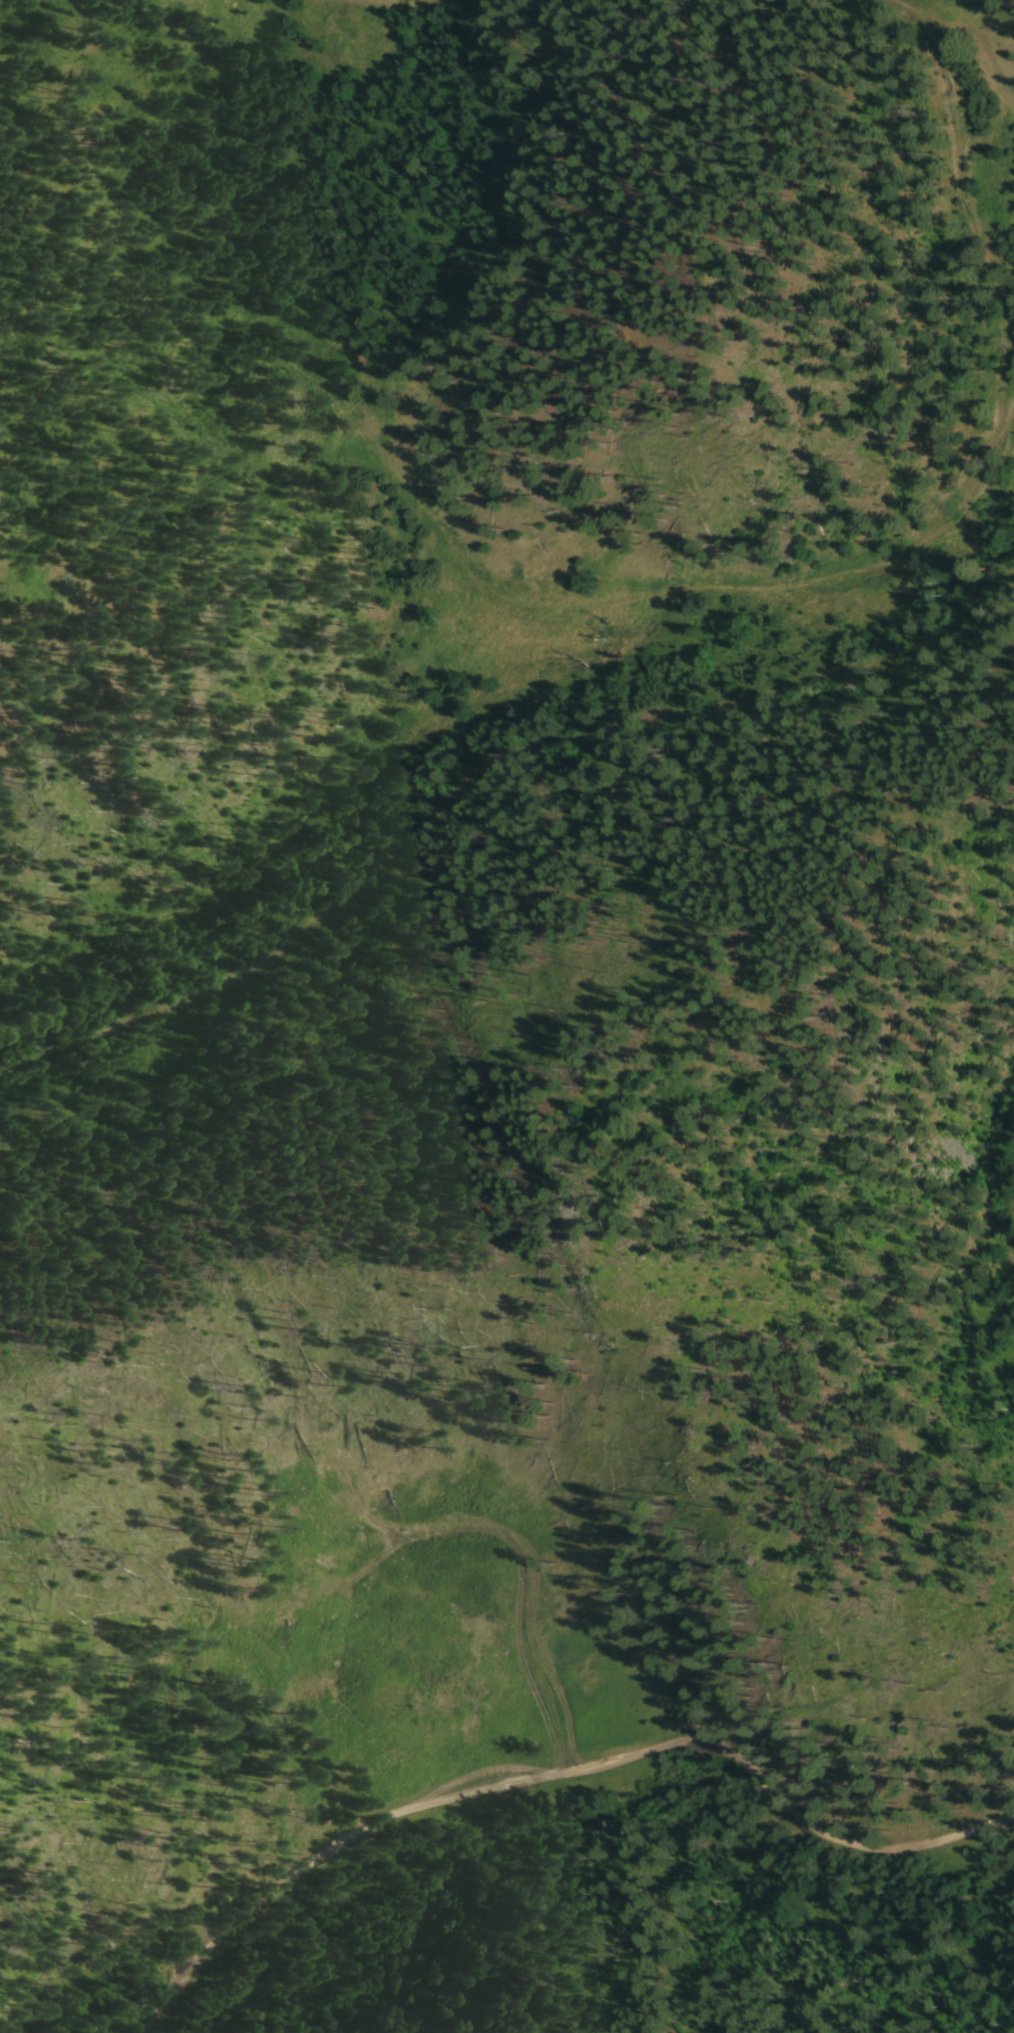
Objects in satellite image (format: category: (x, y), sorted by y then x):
road: (375, 0)
road: (969, 206)
road: (966, 484)
road: (477, 772)
road: (977, 1082)
road: (551, 1773)

